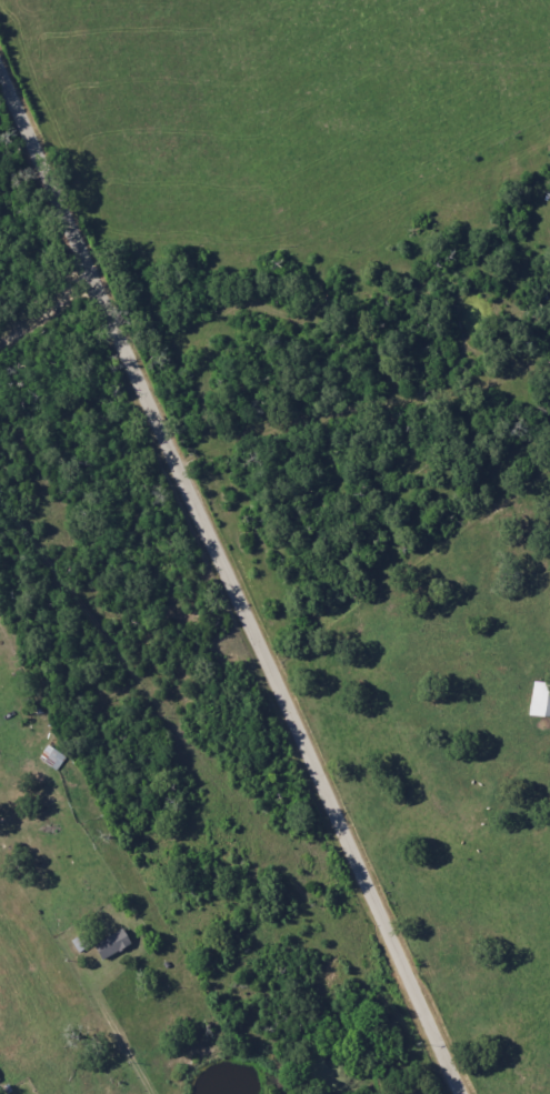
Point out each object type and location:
road: (230, 574)
building: (540, 701)
building: (112, 944)
road: (127, 1046)

